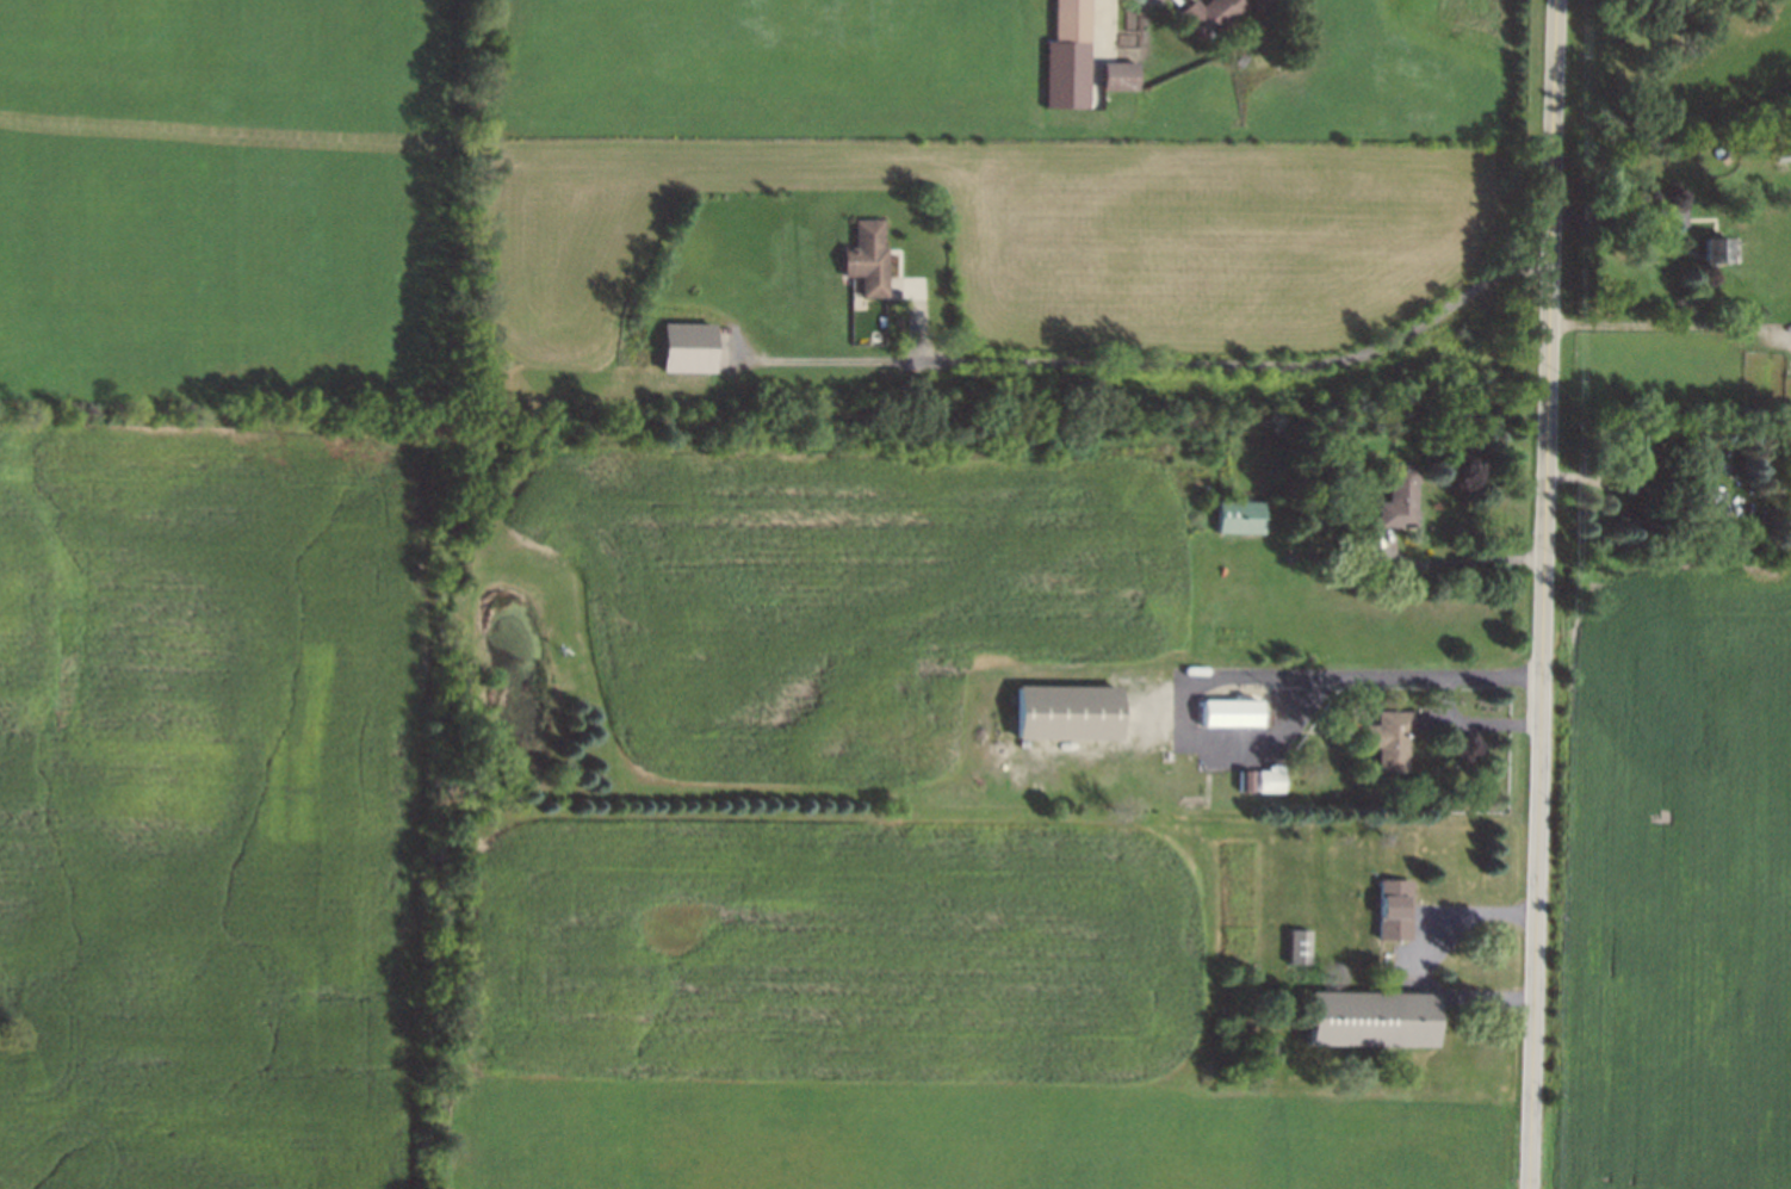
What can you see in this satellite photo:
building: (1210, 13)
building: (1073, 21)
road: (1114, 27)
building: (1121, 75)
building: (1719, 249)
building: (870, 258)
road: (1671, 324)
building: (692, 346)
road: (1247, 364)
building: (1637, 459)
building: (1402, 497)
building: (1242, 515)
road: (1470, 559)
road: (1547, 594)
road: (1246, 673)
building: (1068, 712)
building: (1233, 713)
road: (1474, 722)
building: (1390, 738)
building: (1248, 780)
building: (1271, 780)
building: (1395, 909)
building: (1301, 946)
road: (1424, 953)
building: (1375, 1018)

